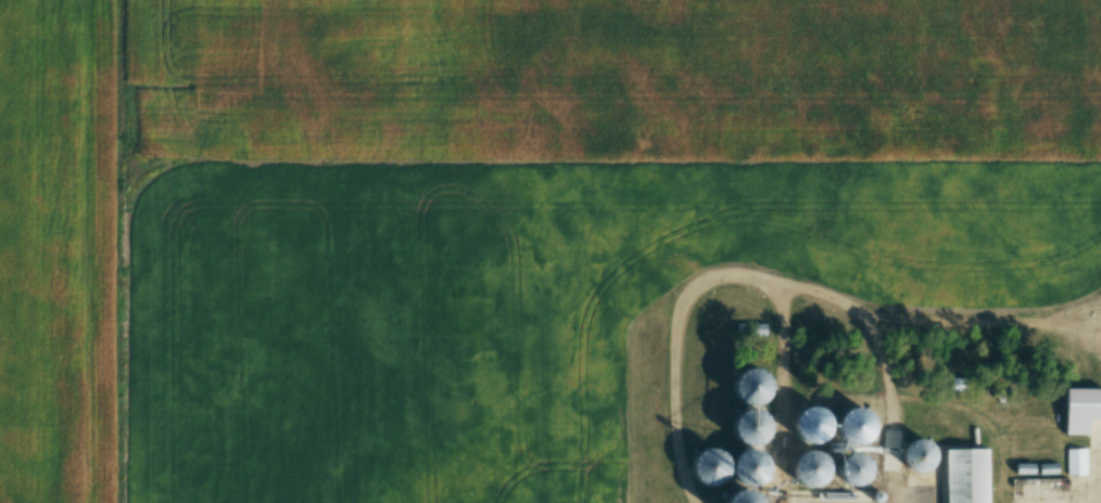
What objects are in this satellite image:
power tower: (160, 162)
building: (569, 267)
building: (657, 284)
building: (569, 304)
building: (655, 317)
building: (568, 322)
building: (656, 350)
building: (569, 358)
building: (569, 377)
building: (569, 397)
building: (656, 402)
building: (1083, 413)
building: (570, 415)
building: (657, 417)
building: (655, 435)
building: (751, 435)
building: (965, 435)
building: (574, 442)
building: (1077, 463)
building: (824, 464)
building: (574, 465)
building: (742, 467)
building: (960, 470)
building: (571, 488)
building: (1042, 490)
building: (755, 496)
building: (669, 500)

